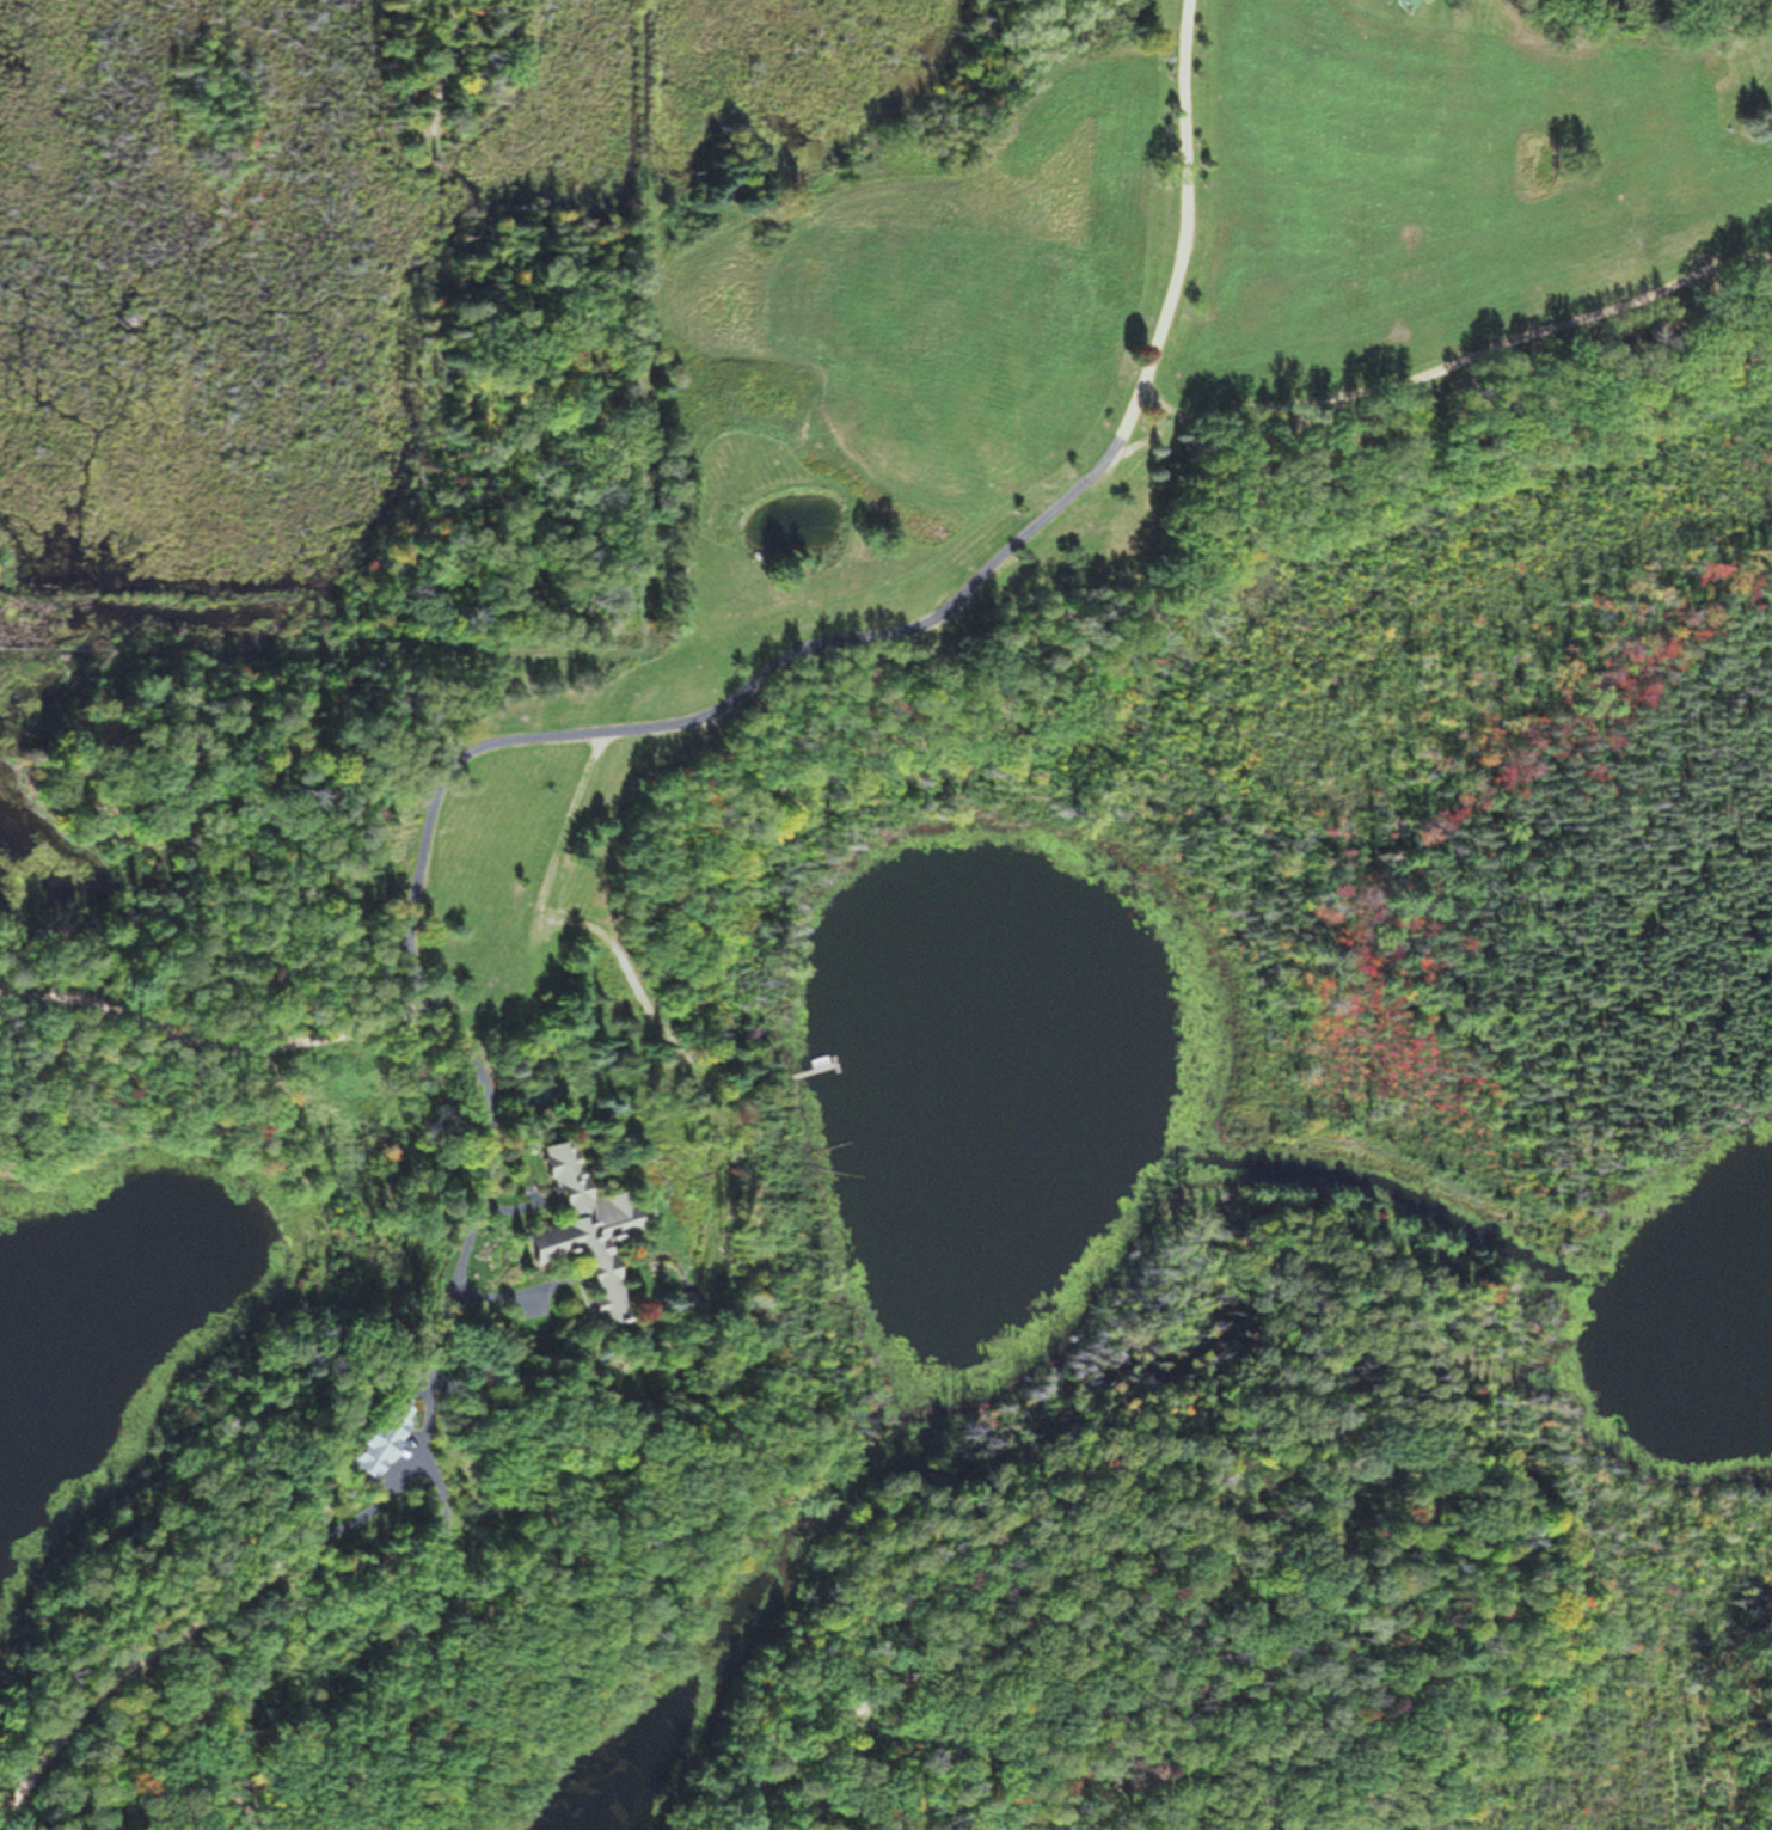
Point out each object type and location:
road: (902, 618)
building: (576, 1226)
building: (372, 1436)

